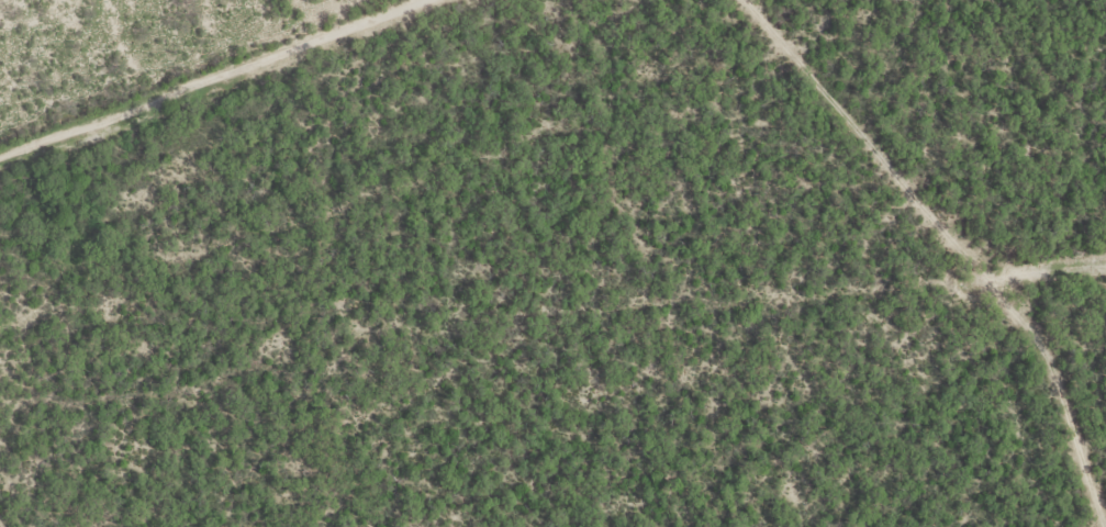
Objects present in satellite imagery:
road: (211, 76)
road: (953, 240)

